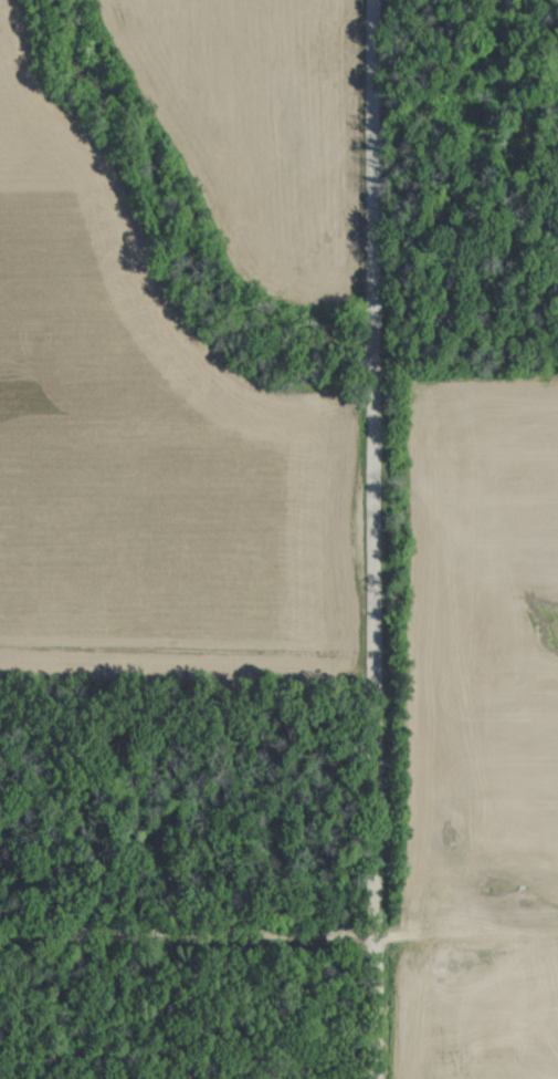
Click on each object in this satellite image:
road: (366, 539)

